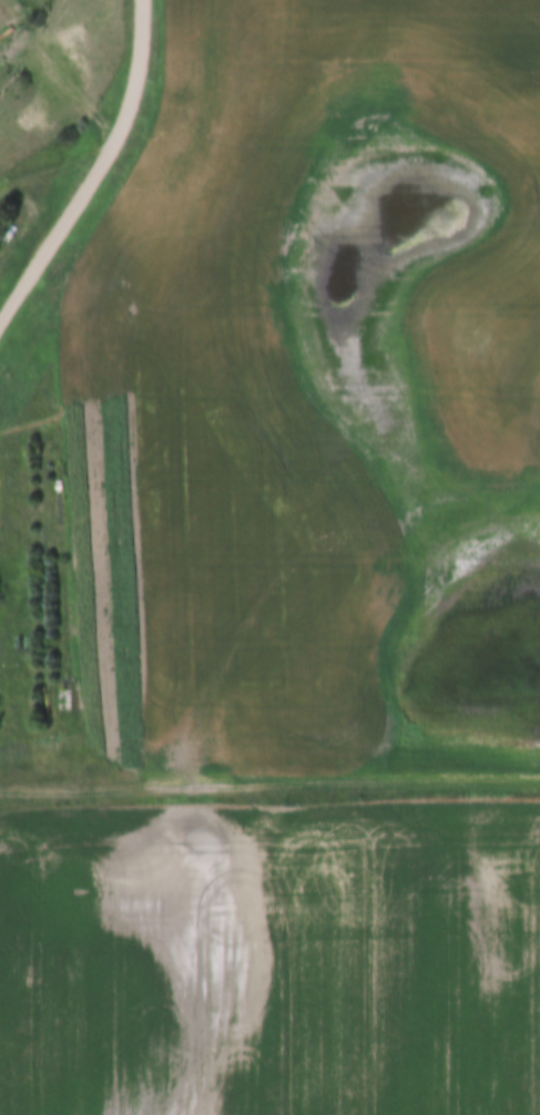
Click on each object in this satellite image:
road: (55, 76)
road: (94, 171)
building: (63, 700)
road: (269, 784)

